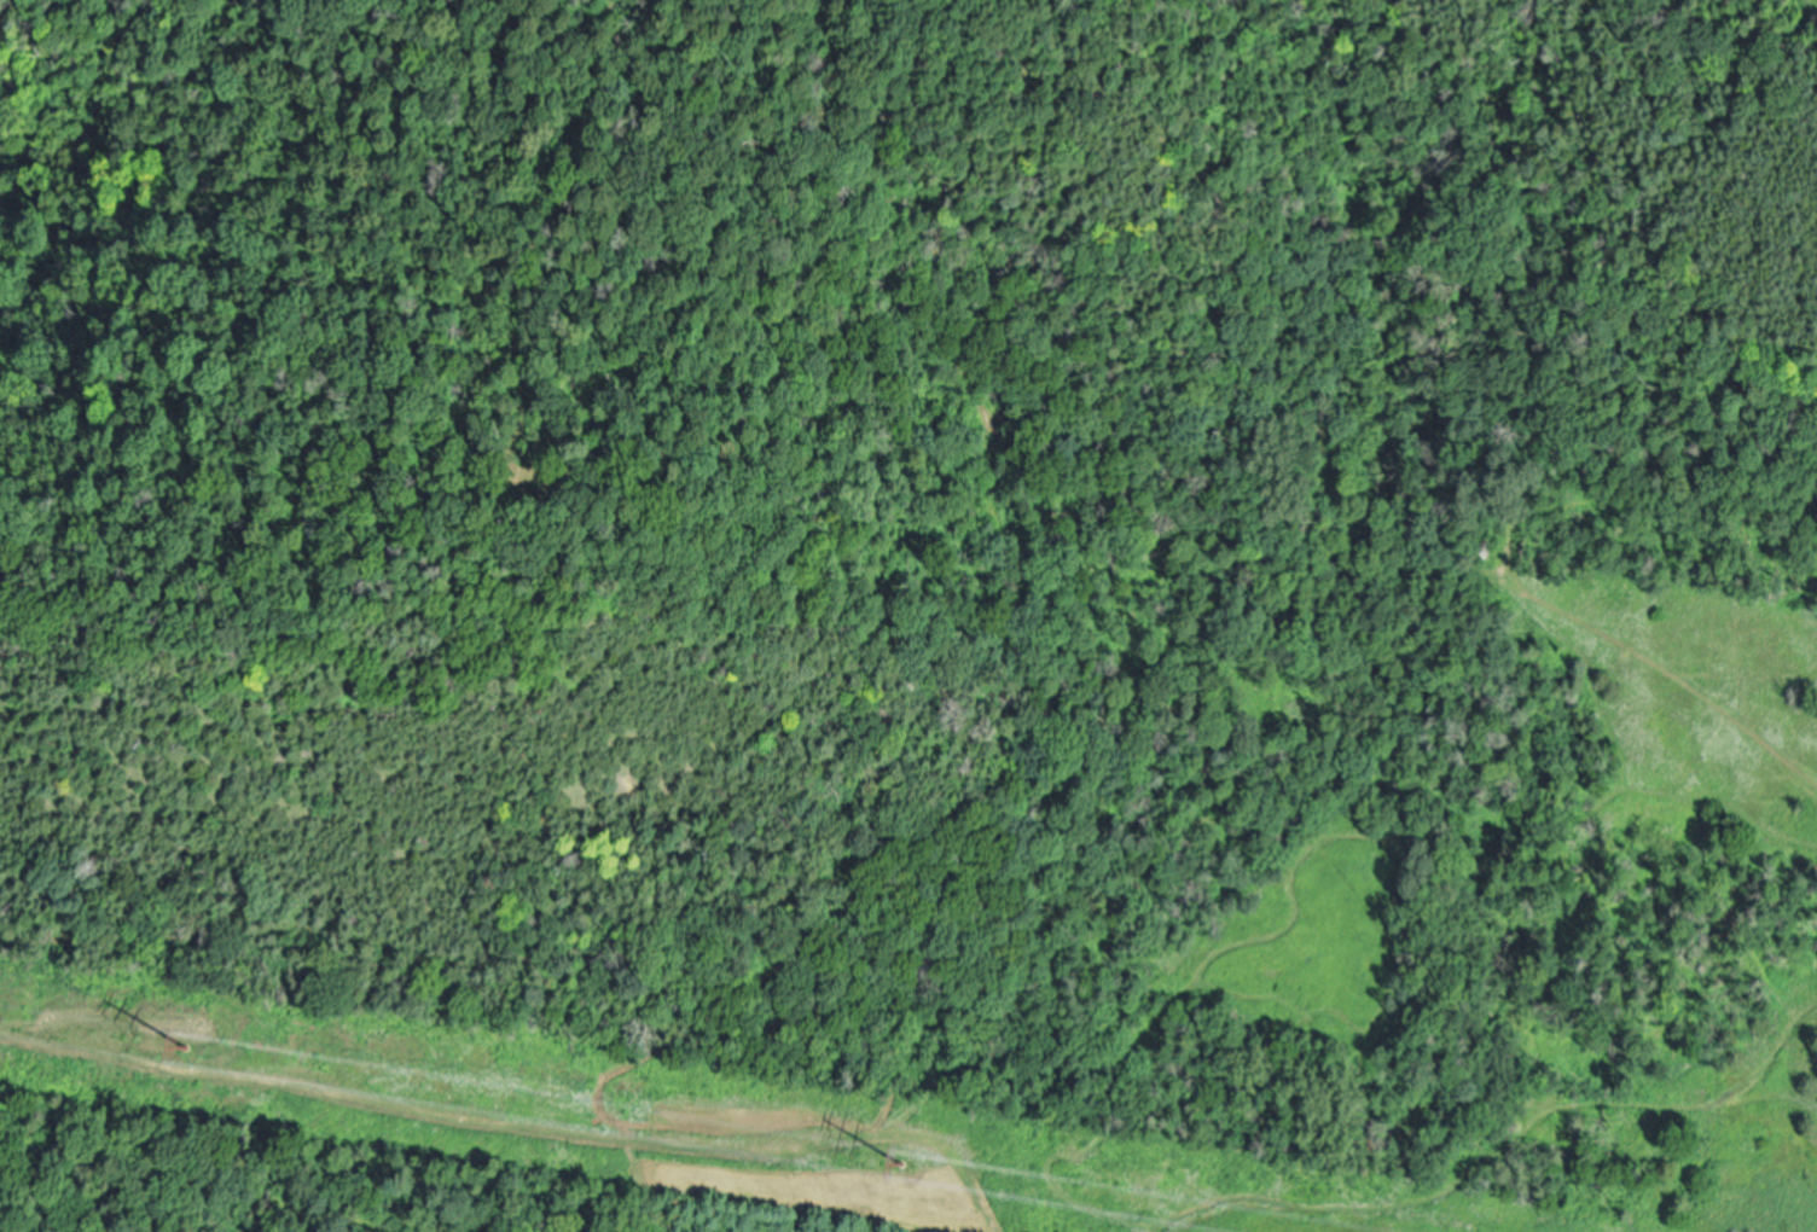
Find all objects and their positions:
power tower: (185, 1041)
power tower: (902, 1156)

